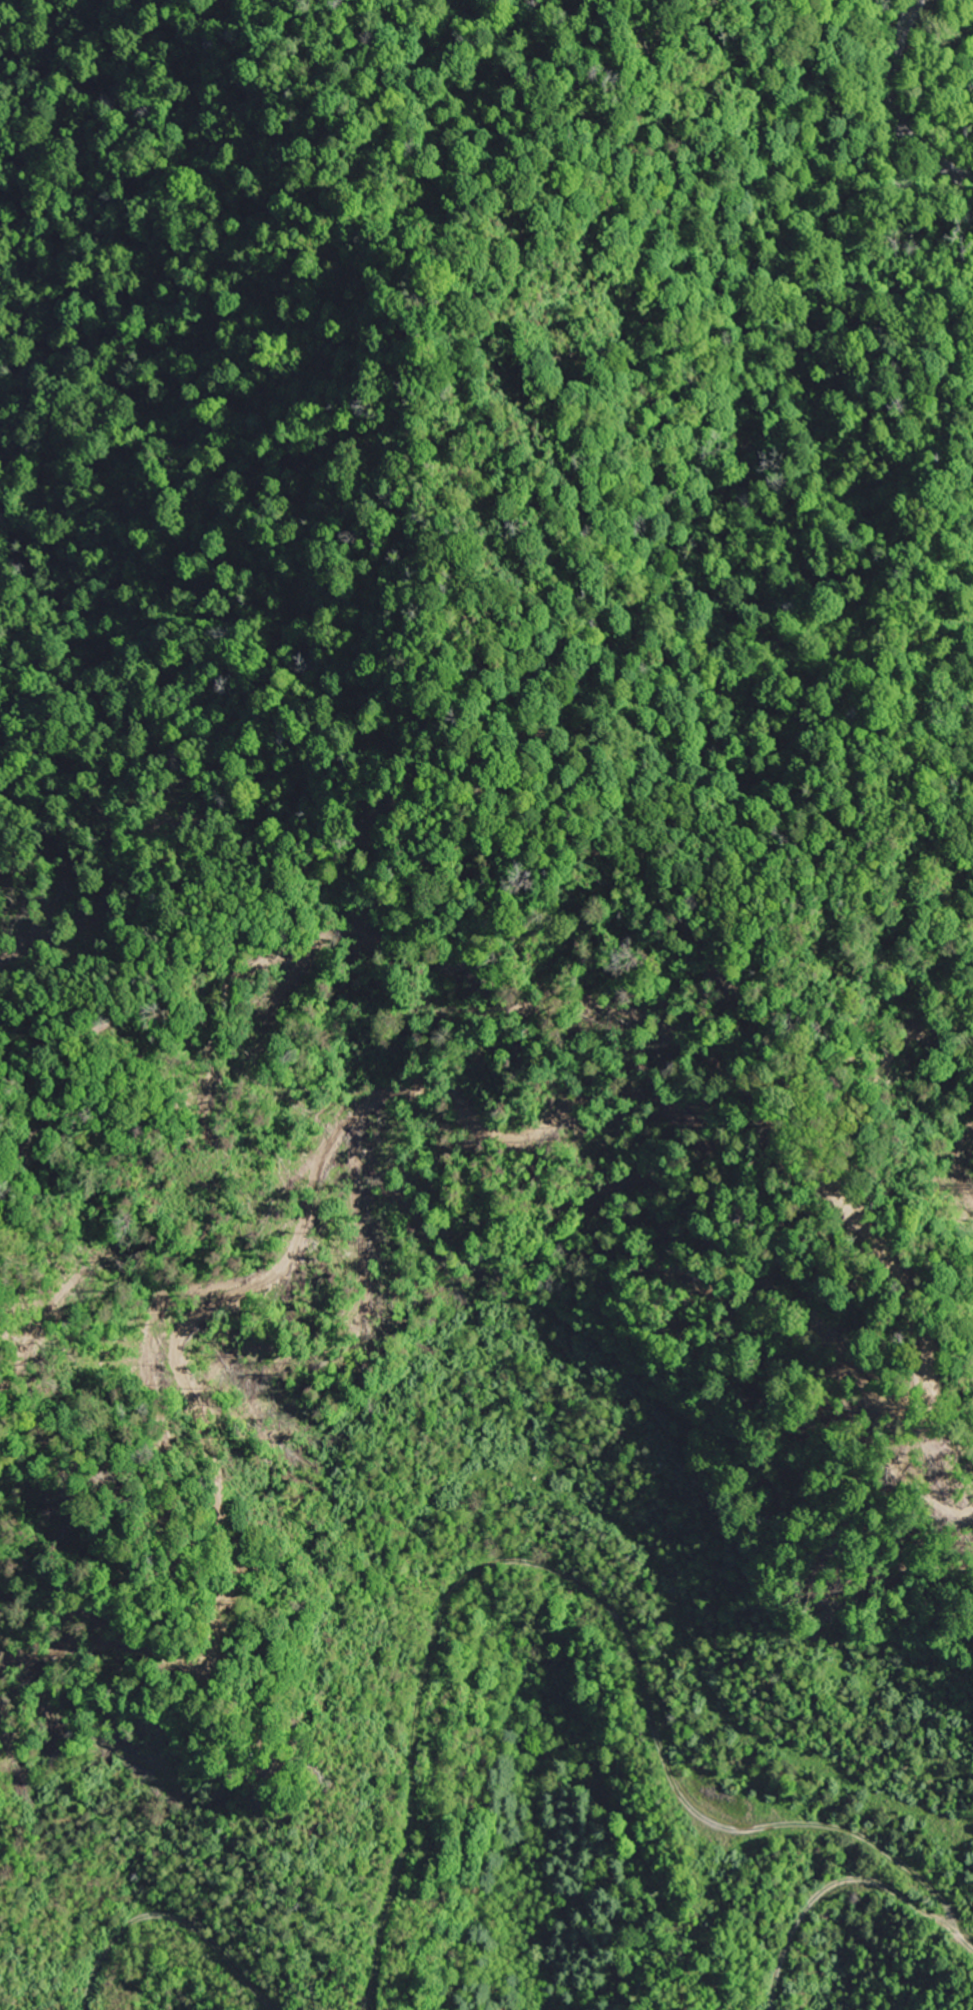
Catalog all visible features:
road: (907, 103)
road: (587, 1588)
road: (841, 1881)
road: (167, 1919)
road: (153, 1965)

